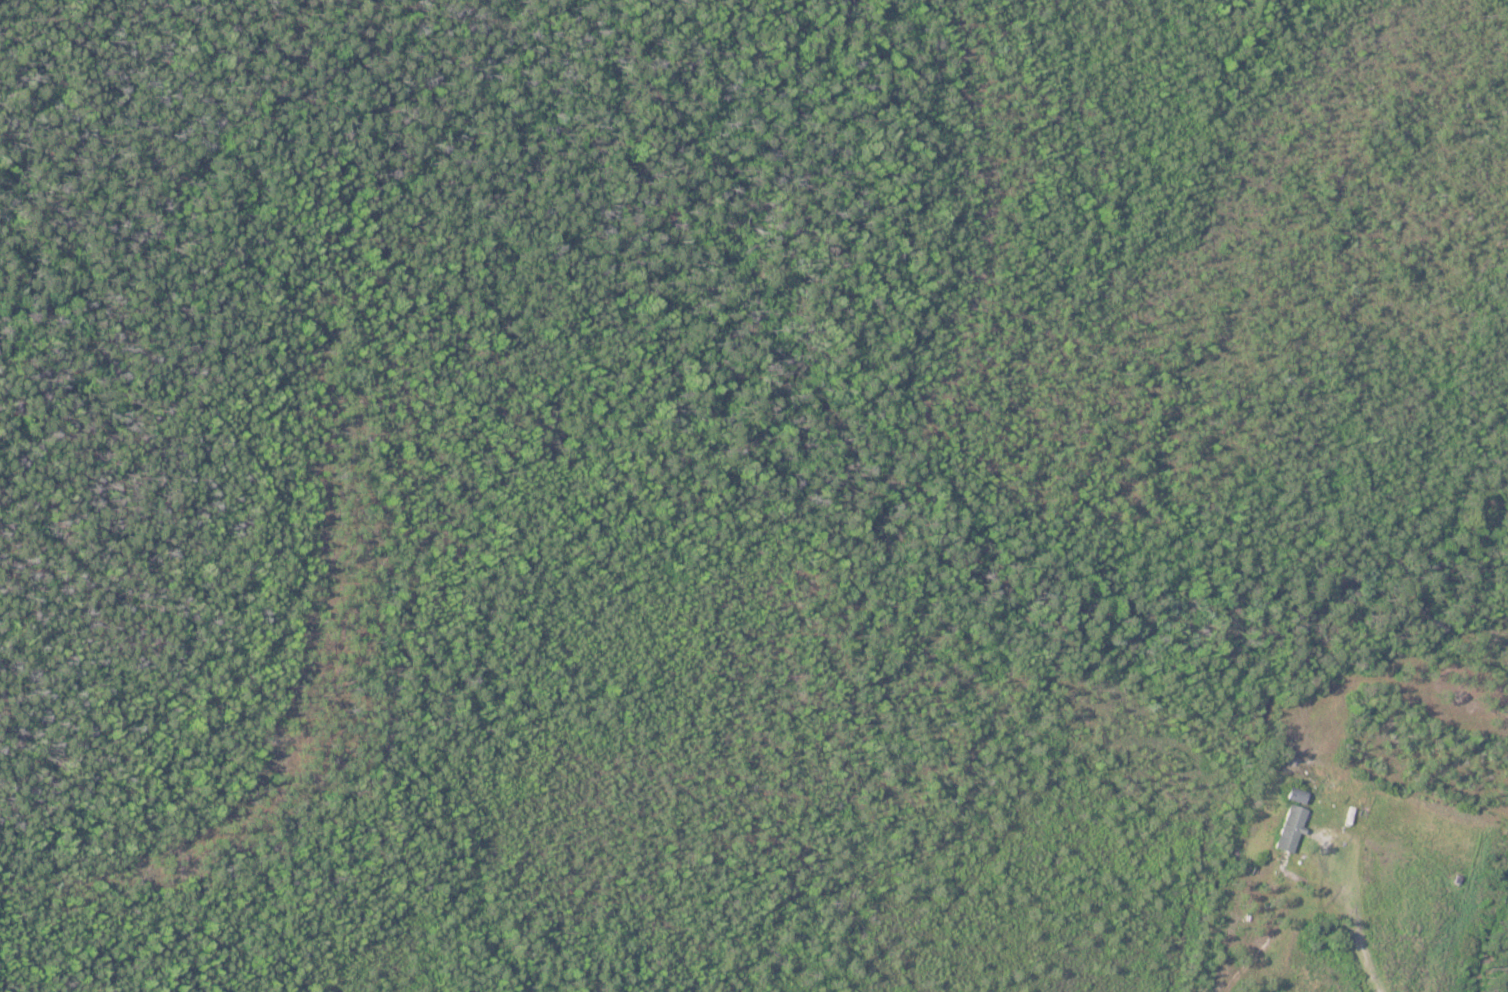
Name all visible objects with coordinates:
building: (1288, 829)

